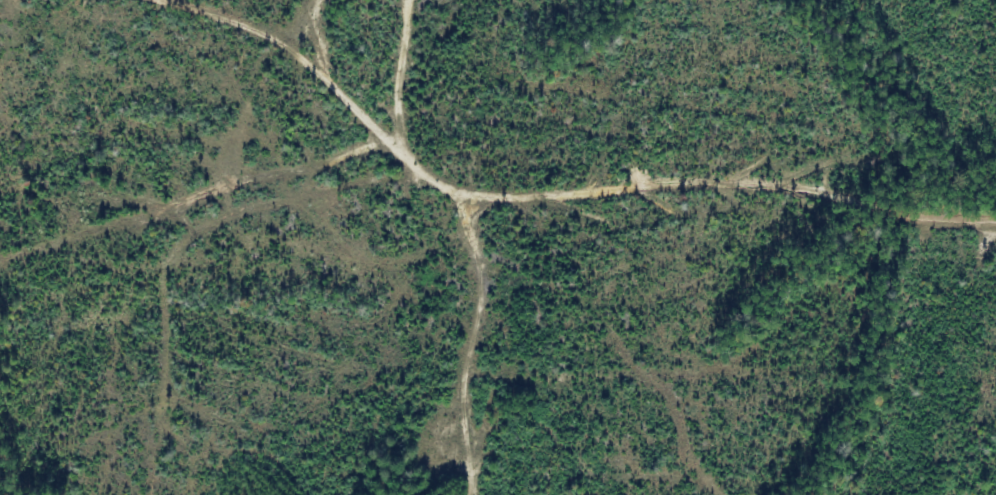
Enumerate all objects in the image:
road: (296, 51)
road: (647, 198)

